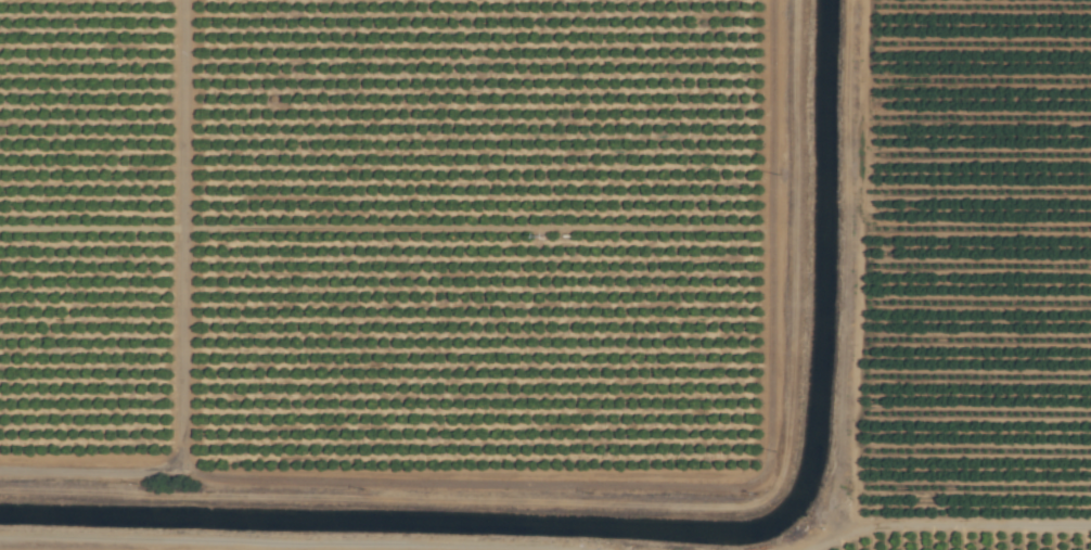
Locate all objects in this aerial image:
road: (945, 525)
road: (178, 546)

